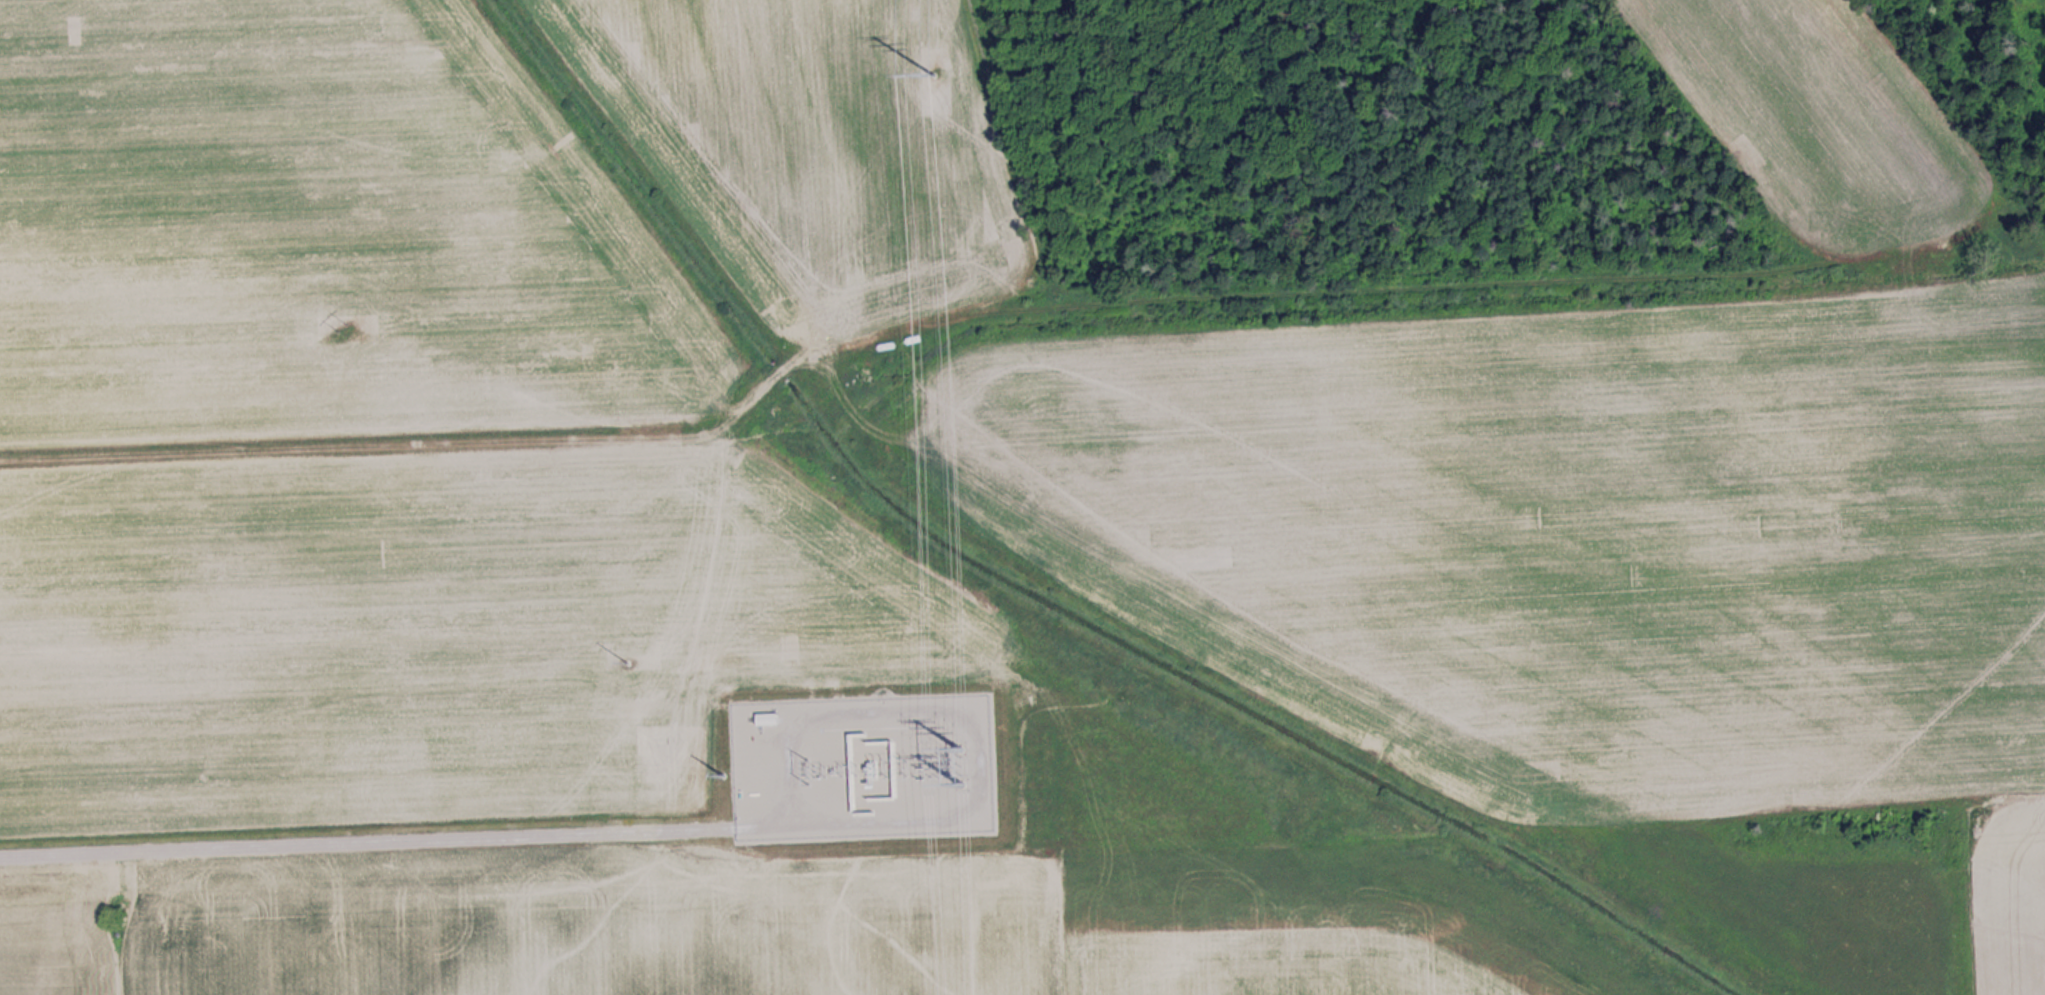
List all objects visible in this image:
power tower: (933, 70)
power tower: (343, 328)
building: (922, 350)
power tower: (629, 661)
power tower: (958, 744)
power substation: (860, 762)
power tower: (721, 769)
power tower: (961, 780)
road: (366, 837)

